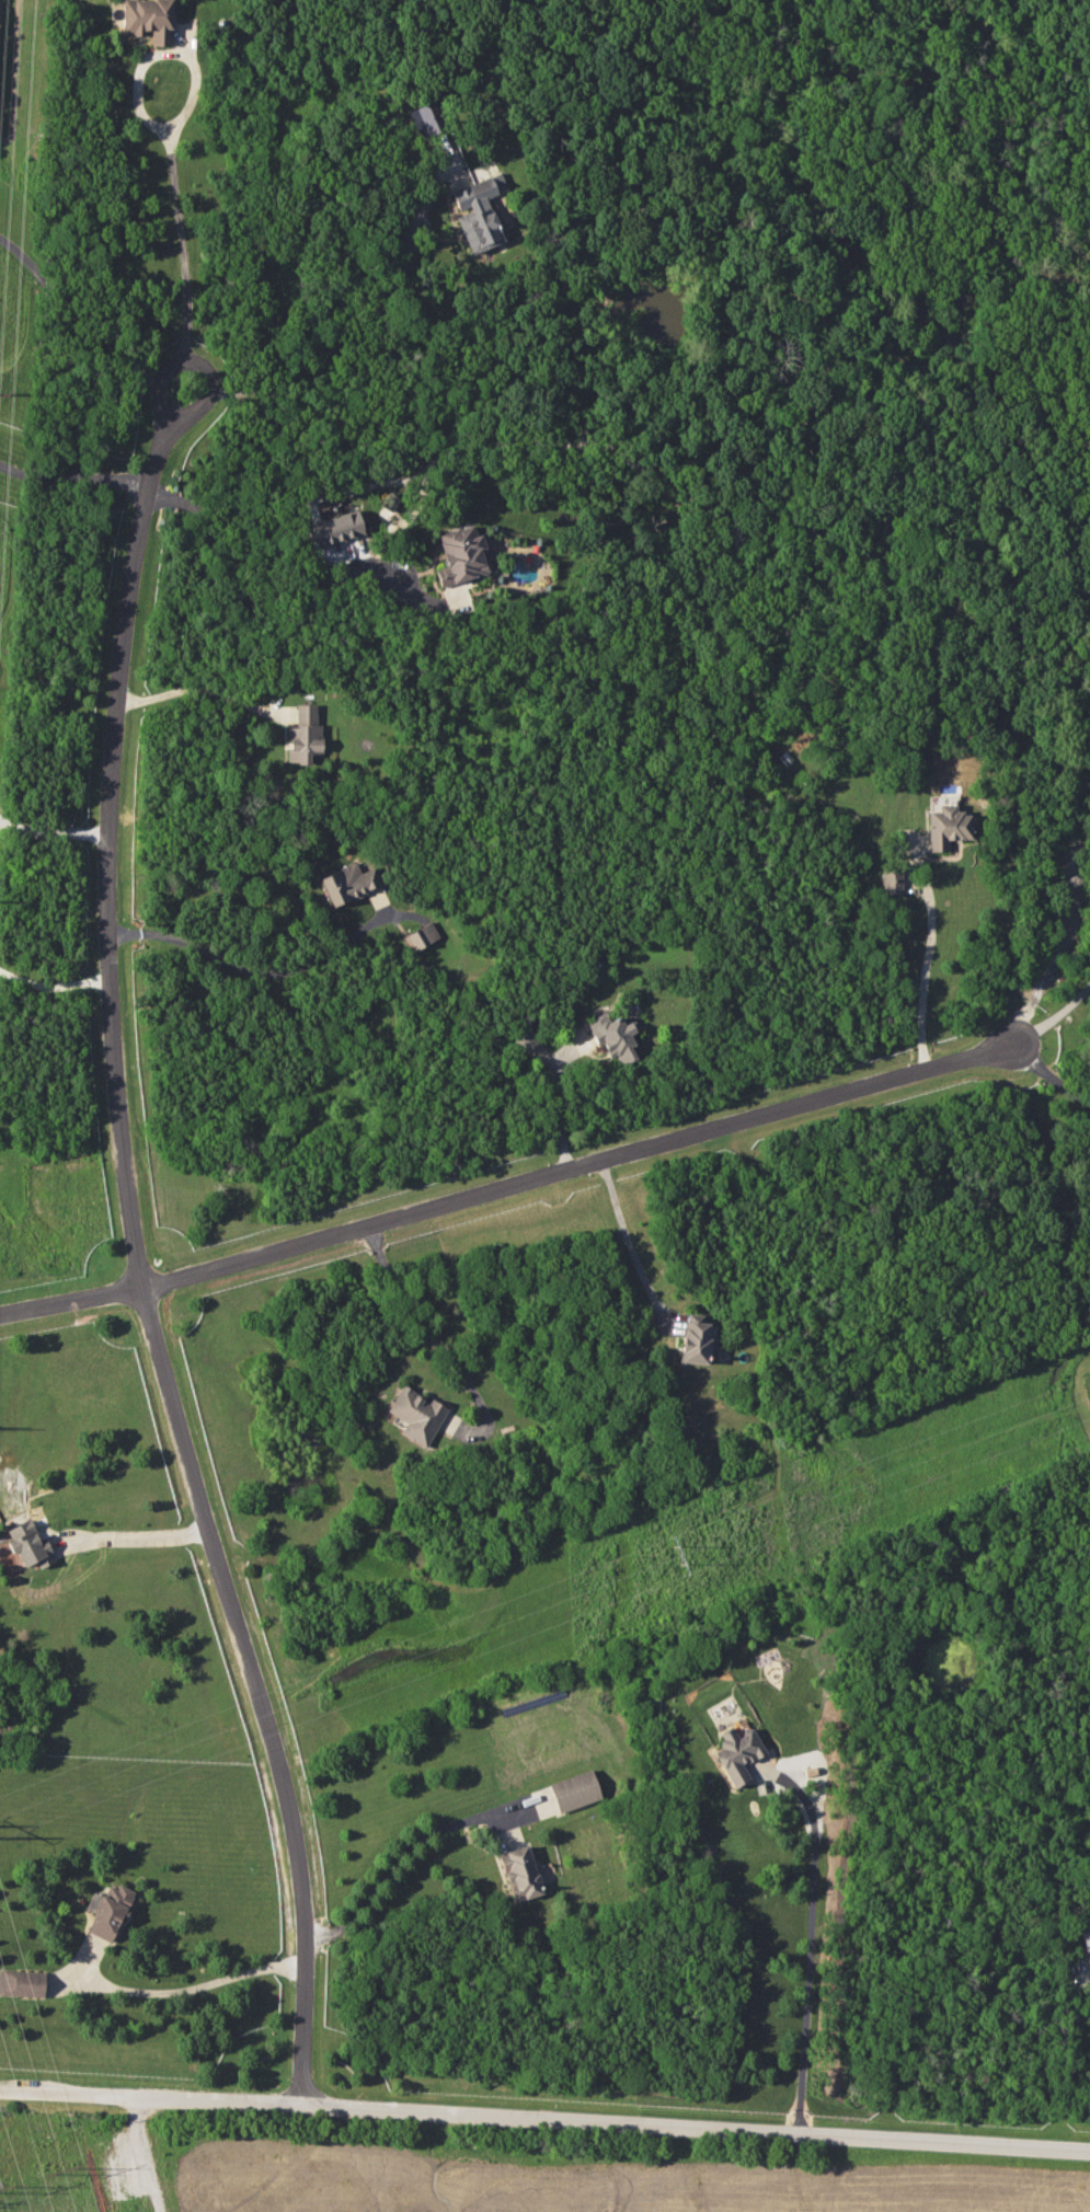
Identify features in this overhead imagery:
building: (148, 19)
building: (426, 117)
building: (479, 211)
road: (177, 218)
road: (74, 315)
road: (363, 323)
power tower: (7, 393)
road: (76, 463)
building: (390, 502)
building: (336, 528)
building: (461, 555)
road: (282, 594)
road: (203, 682)
building: (303, 735)
building: (942, 799)
building: (948, 827)
road: (51, 832)
building: (891, 880)
building: (348, 882)
building: (422, 935)
road: (920, 968)
road: (264, 971)
road: (51, 973)
road: (1053, 1015)
building: (613, 1036)
building: (524, 1039)
road: (1048, 1071)
road: (557, 1102)
road: (506, 1176)
road: (124, 1183)
road: (626, 1236)
road: (429, 1335)
building: (696, 1338)
building: (416, 1414)
road: (133, 1532)
building: (25, 1542)
power tower: (679, 1549)
building: (737, 1752)
building: (574, 1789)
road: (394, 1854)
building: (519, 1871)
building: (107, 1910)
building: (1089, 1919)
road: (808, 1943)
building: (1087, 1943)
building: (22, 1982)
road: (190, 1991)
road: (544, 2123)
road: (145, 2156)
power tower: (68, 2168)
power tower: (7, 2186)

